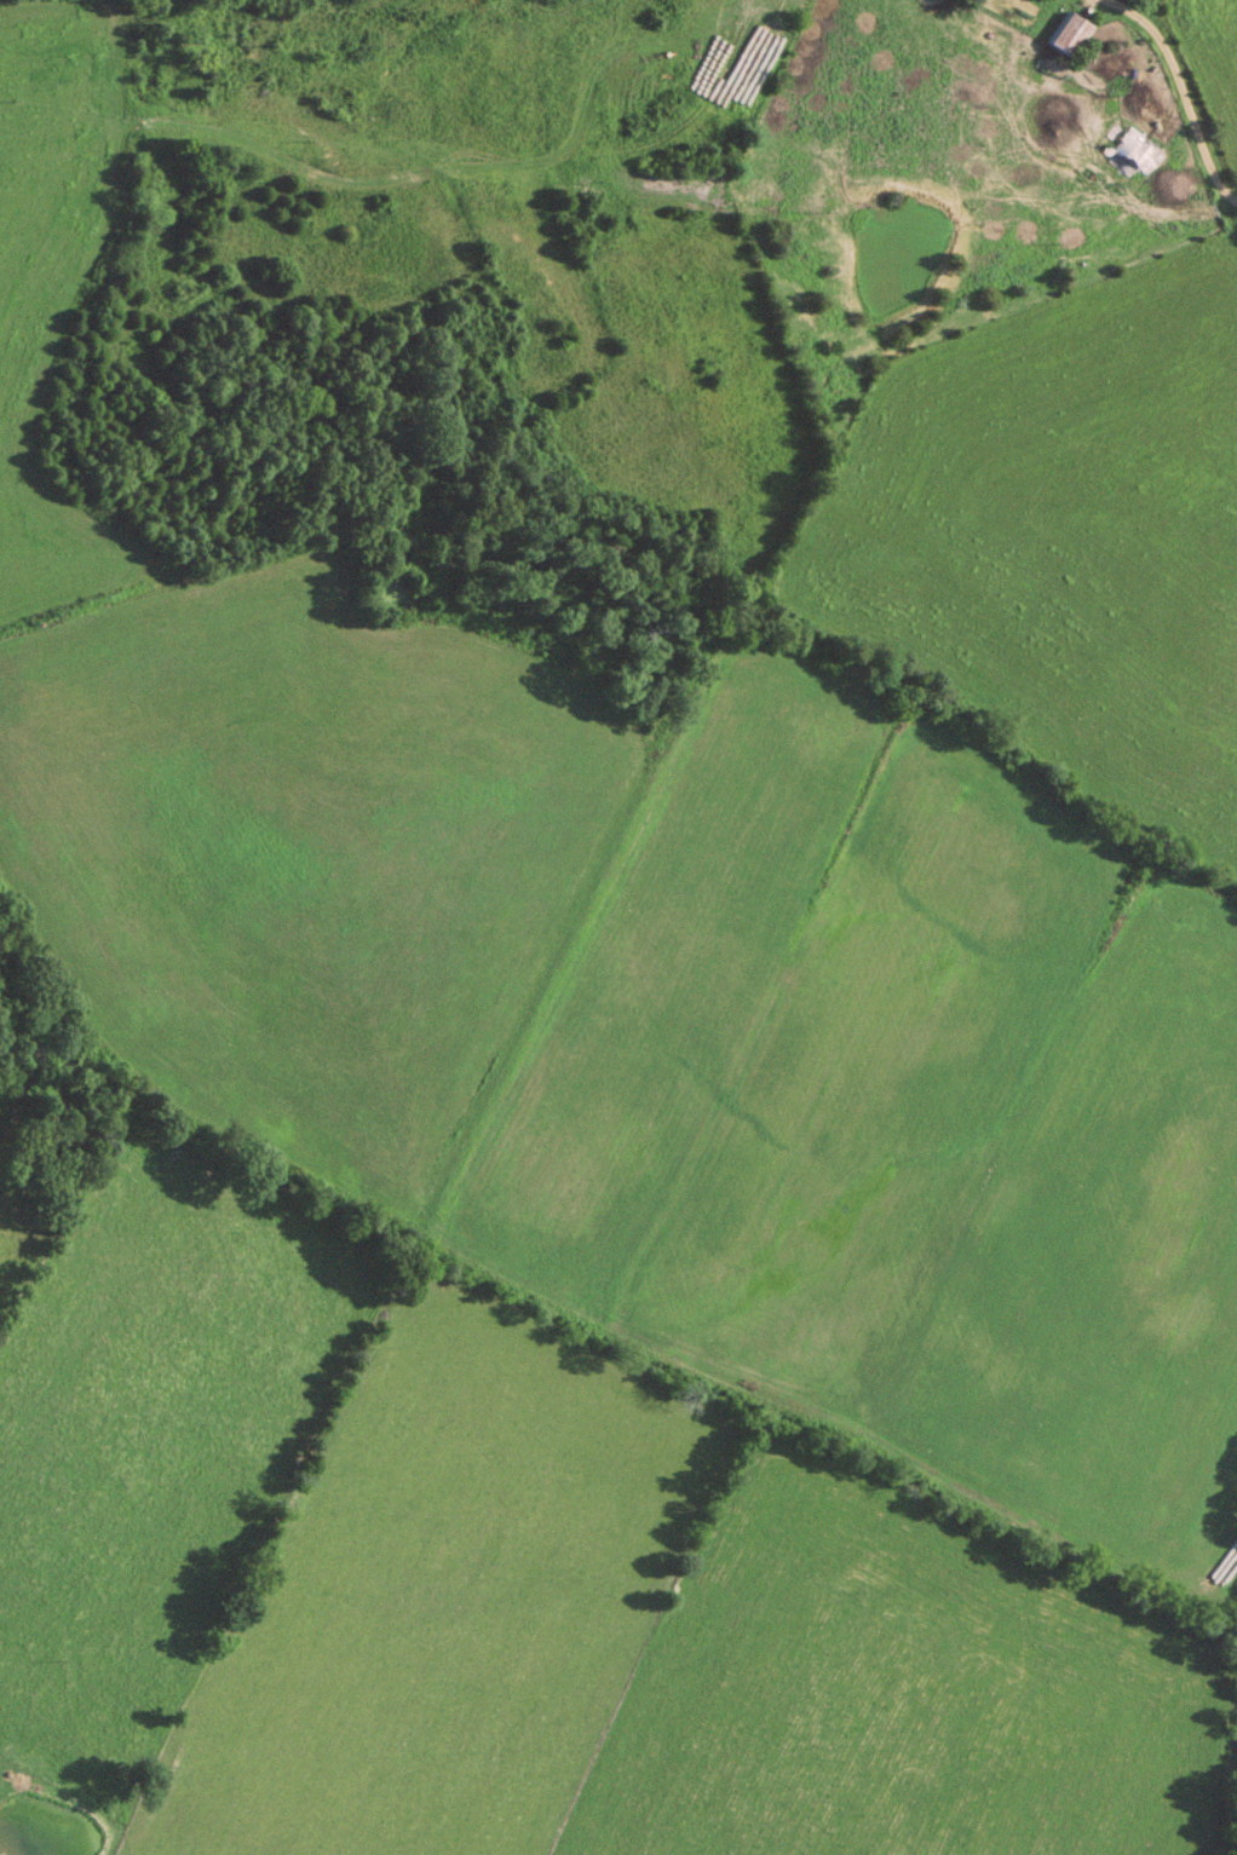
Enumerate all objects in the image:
building: (1065, 38)
road: (1185, 88)

